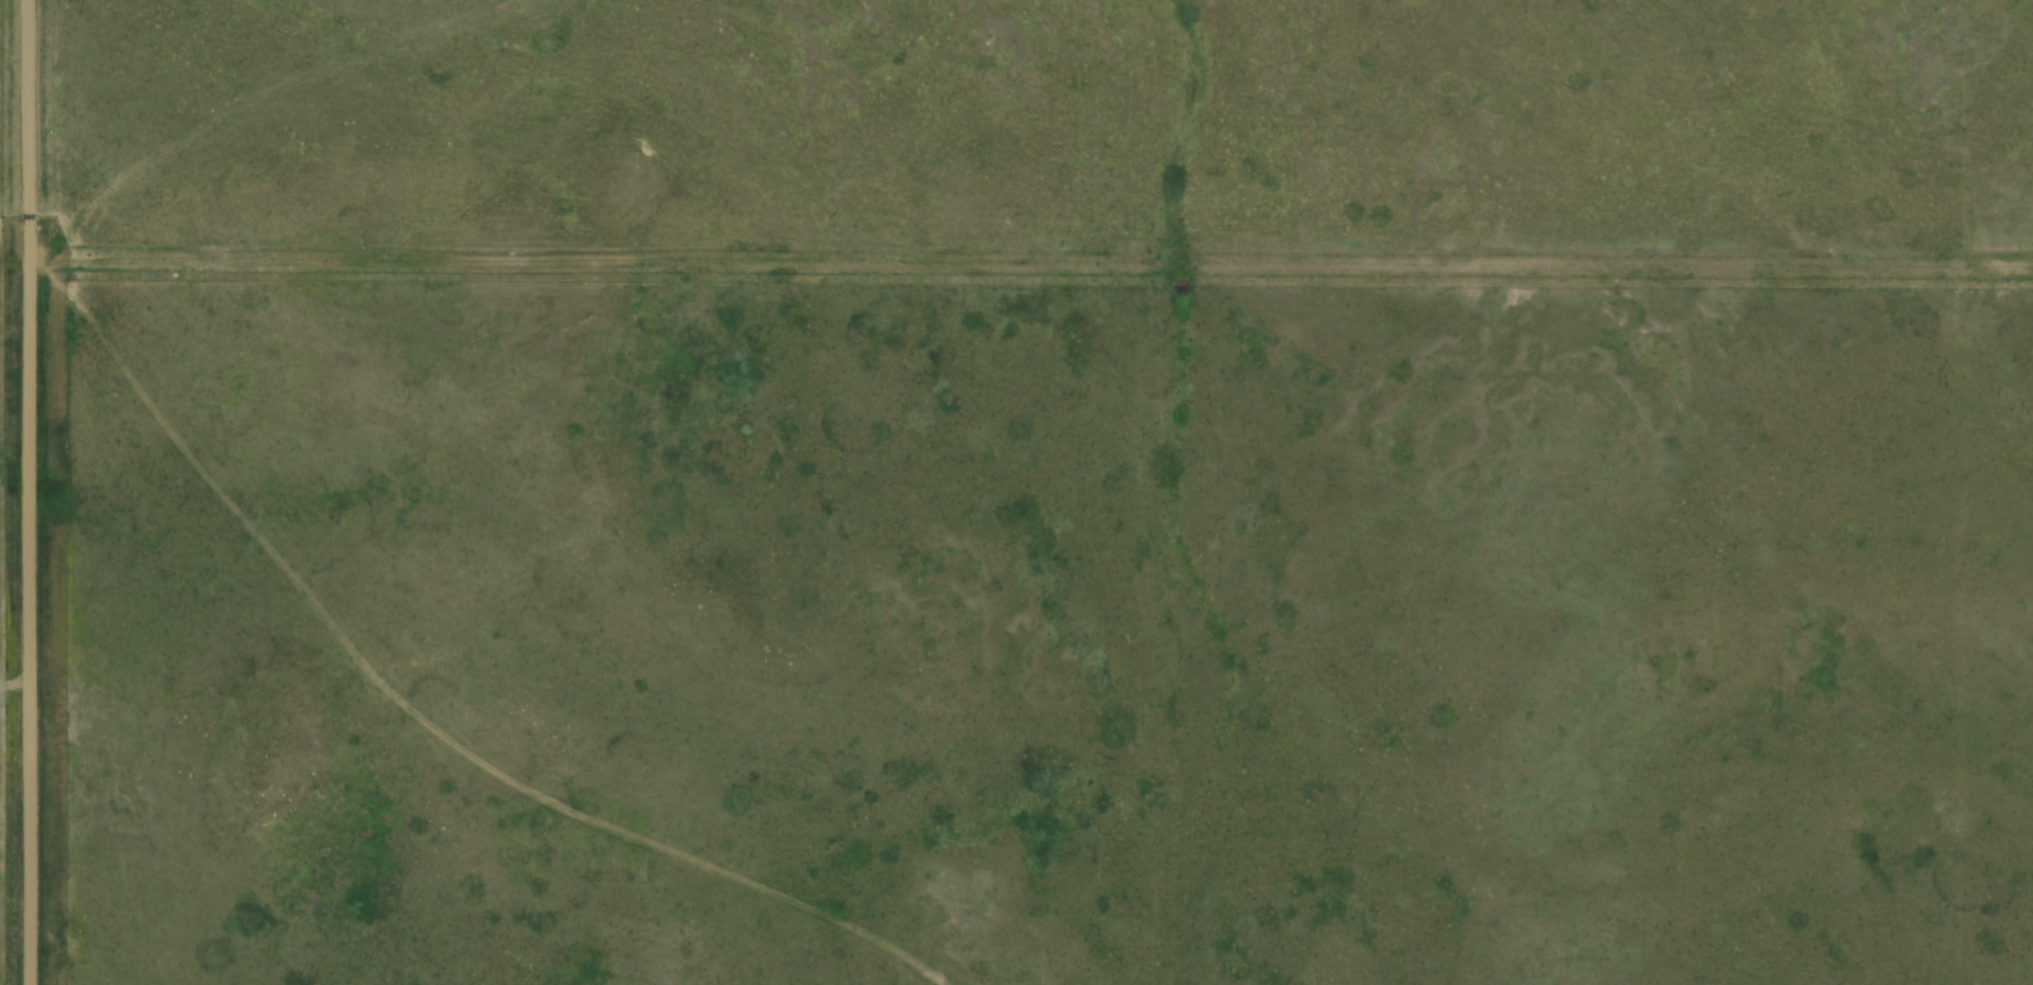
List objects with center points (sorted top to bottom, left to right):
road: (1033, 264)
road: (34, 492)

